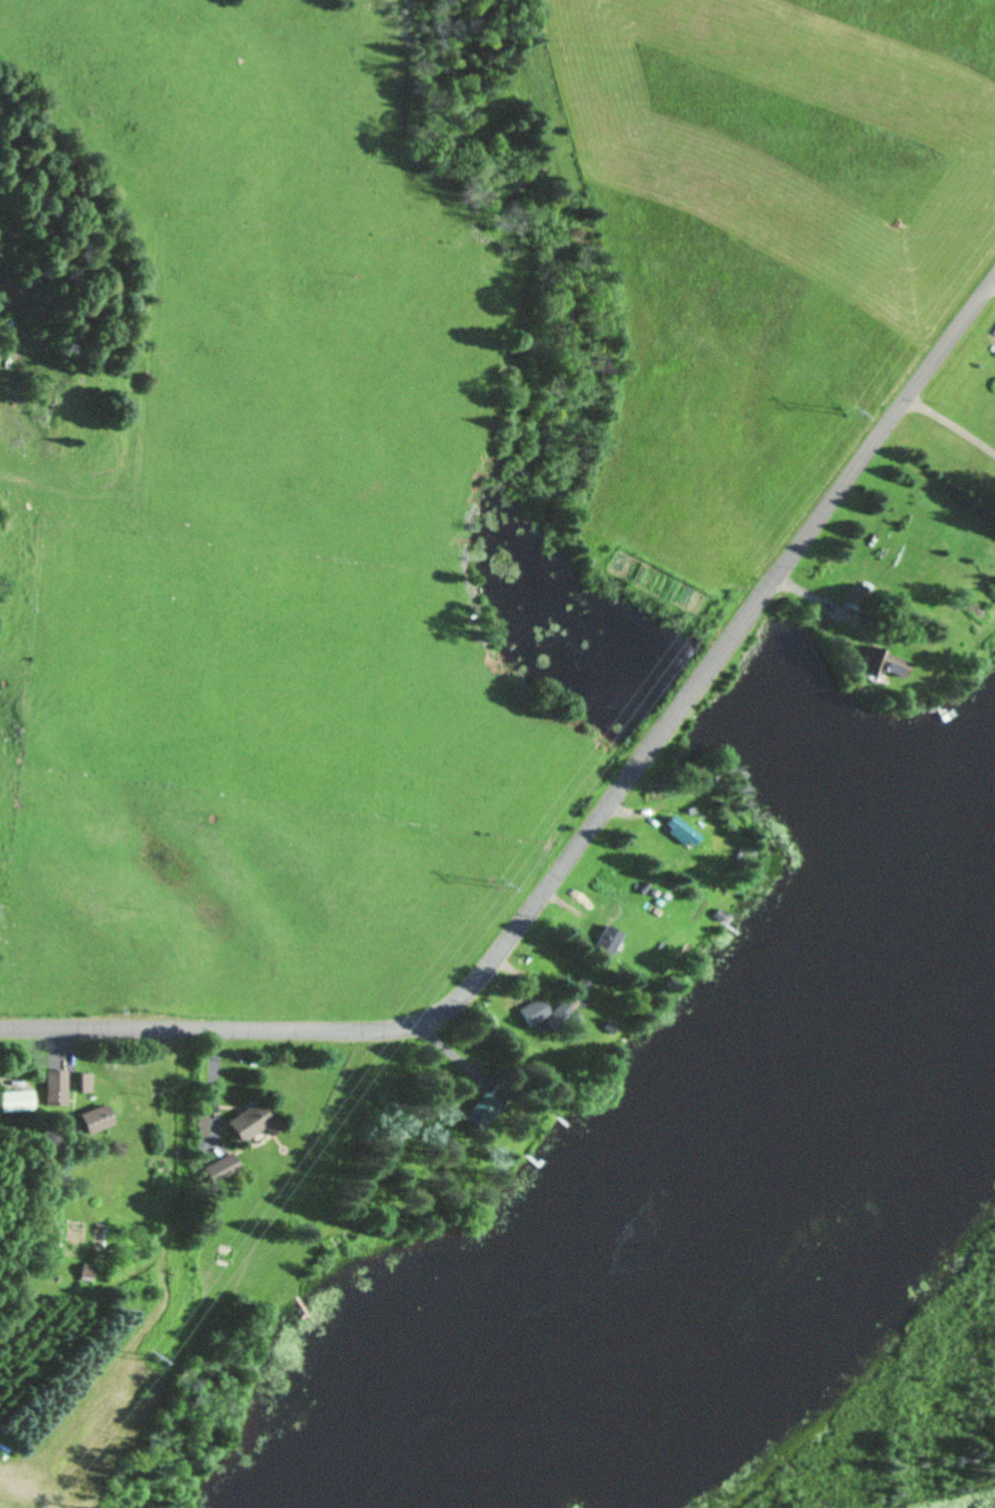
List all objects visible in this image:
power tower: (846, 416)
building: (891, 668)
road: (587, 828)
building: (681, 835)
power tower: (494, 887)
building: (608, 941)
building: (574, 998)
building: (535, 1013)
building: (85, 1084)
building: (56, 1090)
building: (16, 1103)
building: (391, 1109)
building: (488, 1109)
building: (97, 1121)
building: (253, 1124)
building: (222, 1170)
river: (721, 1203)
building: (87, 1275)
power tower: (147, 1359)

